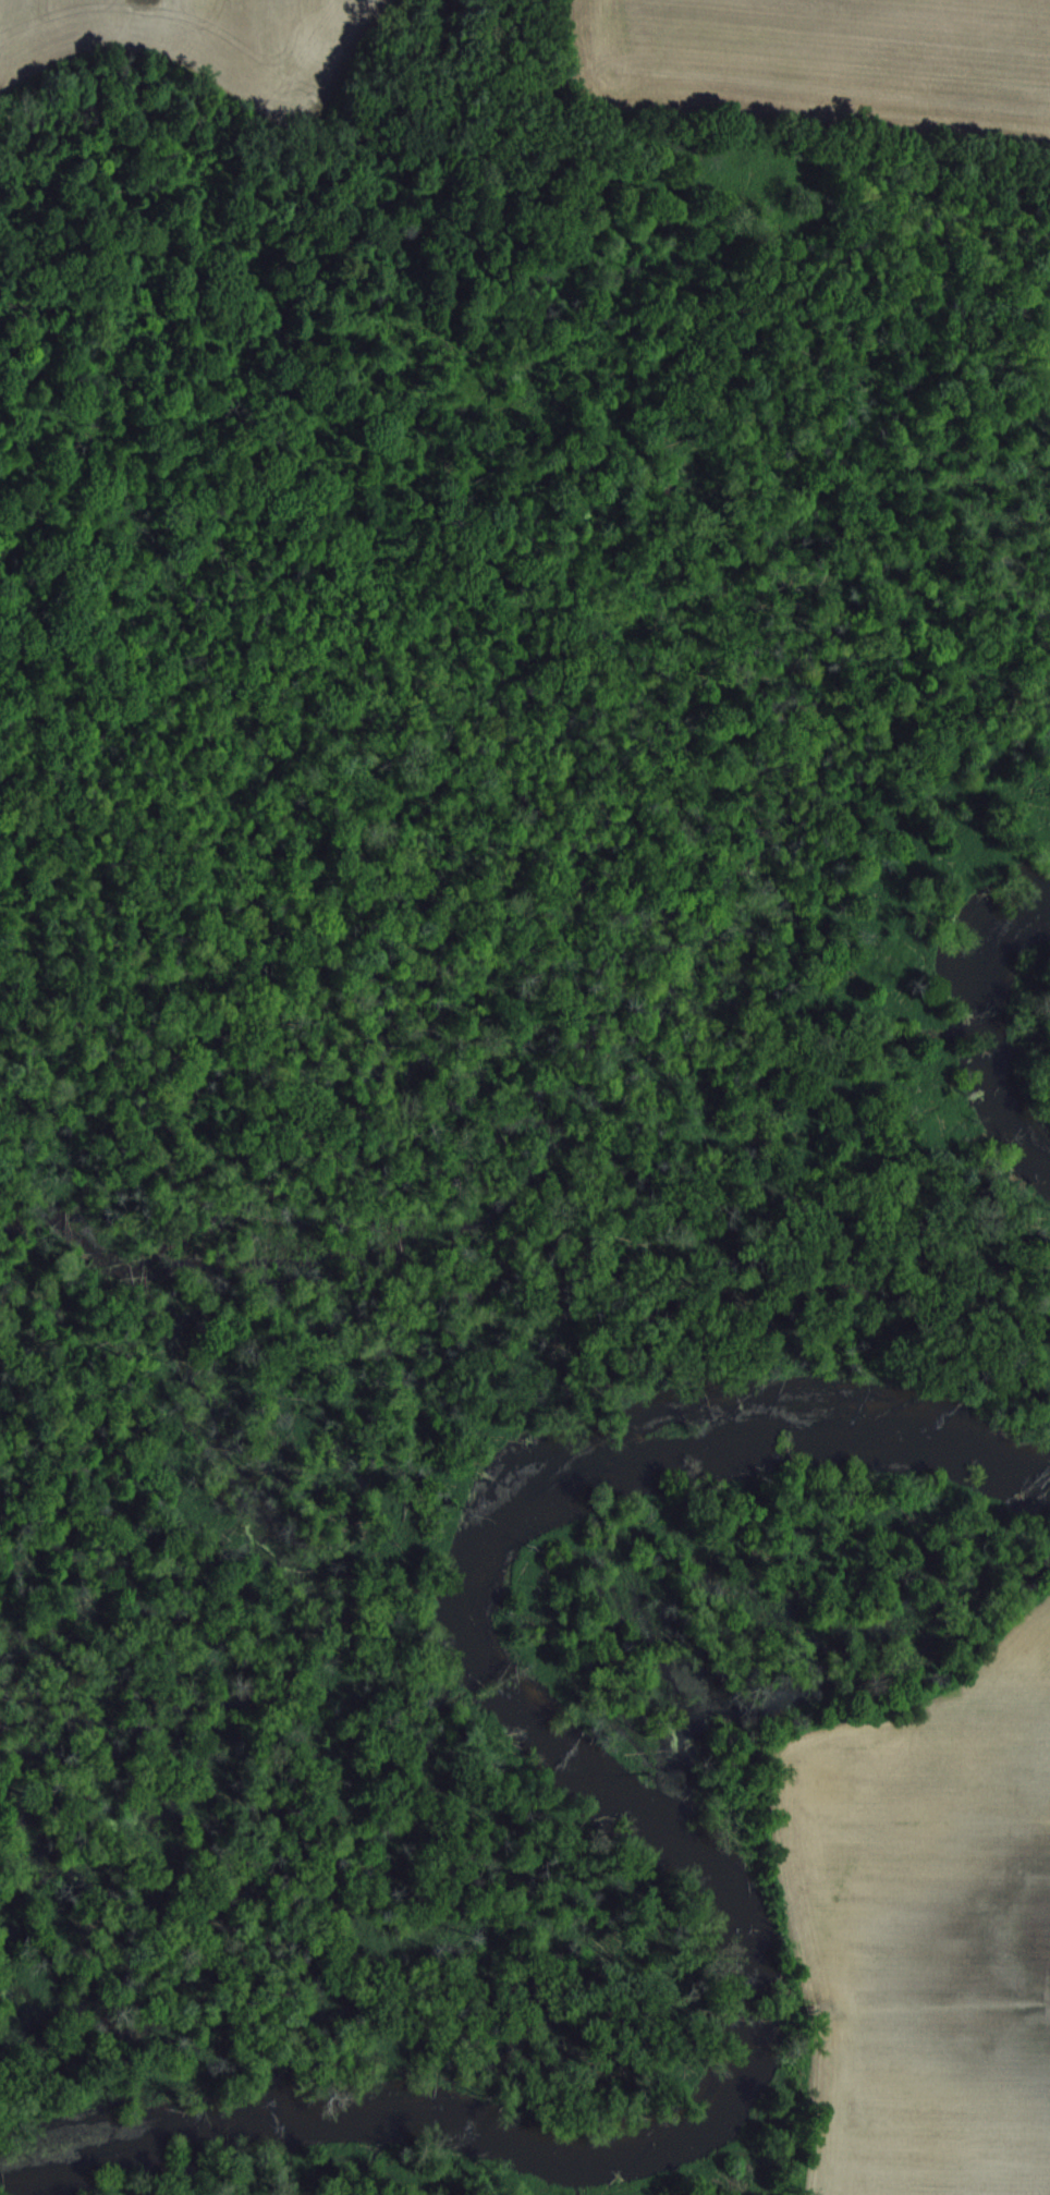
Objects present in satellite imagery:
river: (966, 1023)
river: (691, 1850)

